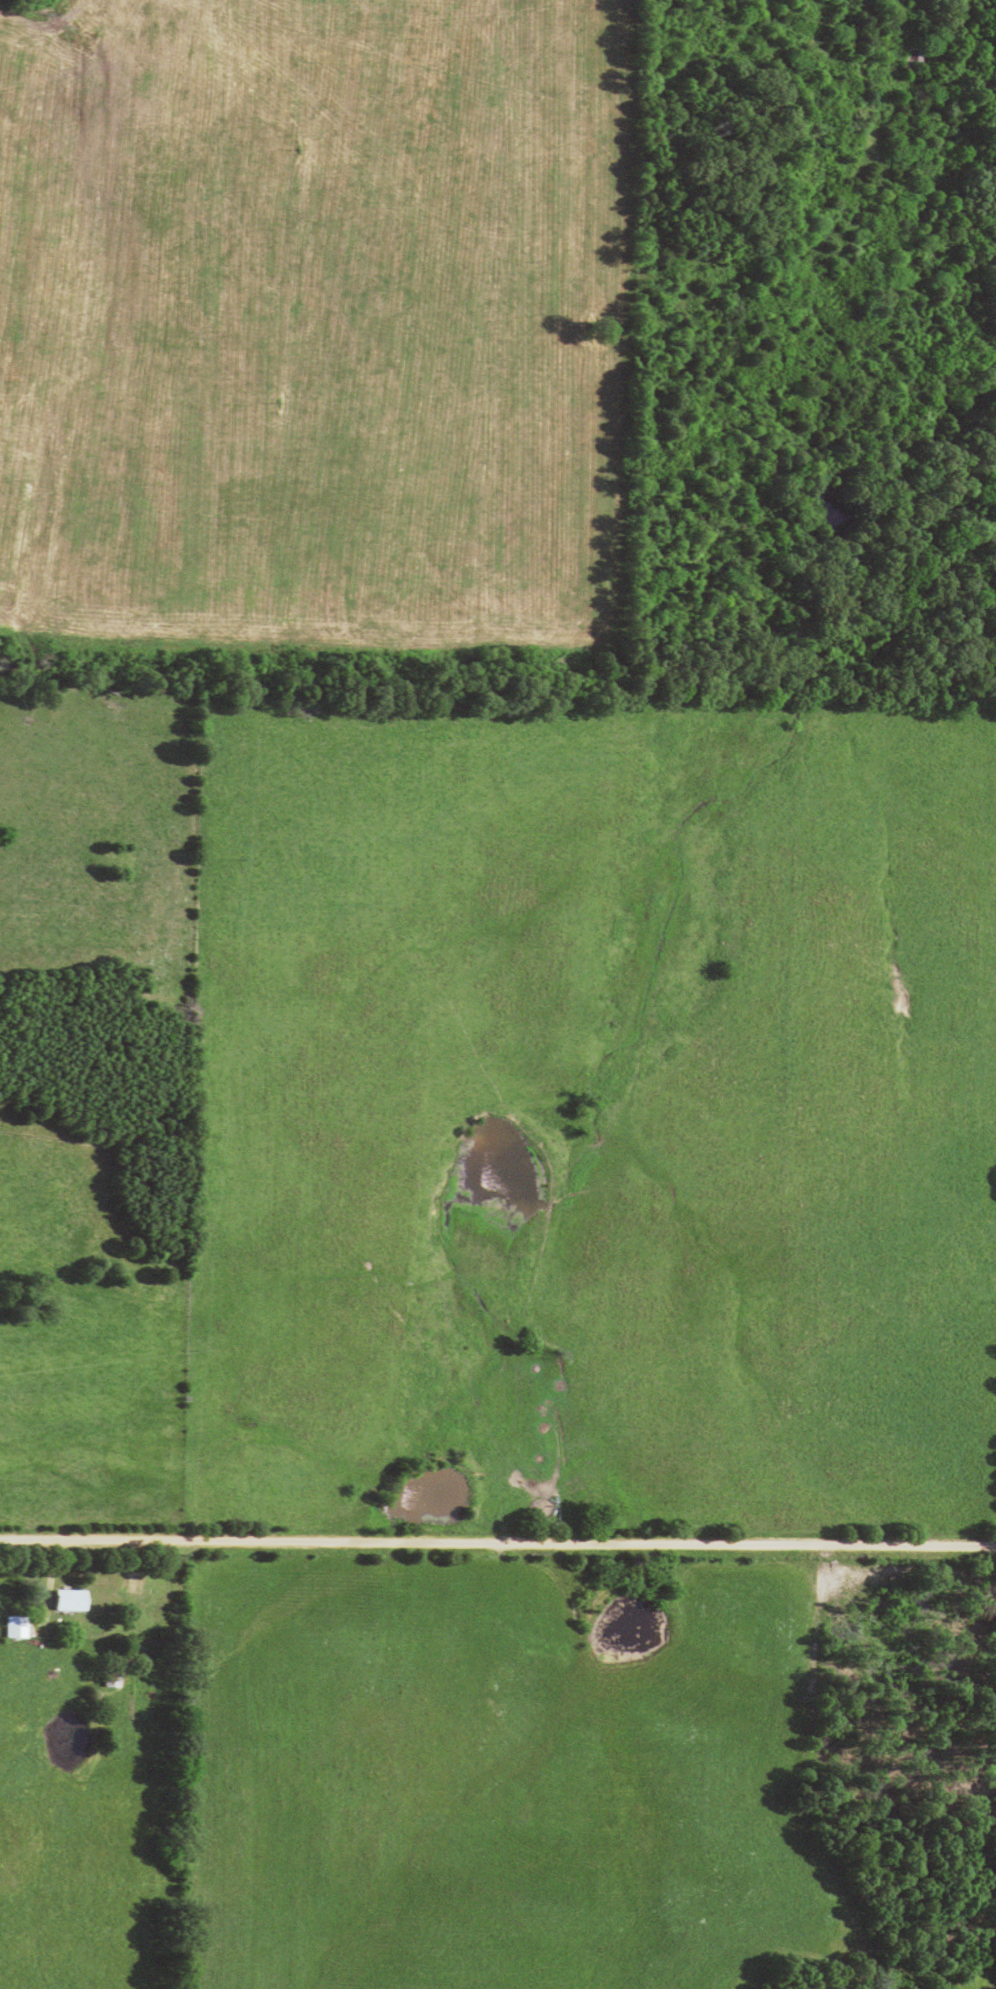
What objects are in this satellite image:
building: (915, 63)
road: (497, 1543)
building: (64, 1604)
building: (11, 1630)
building: (107, 1680)

